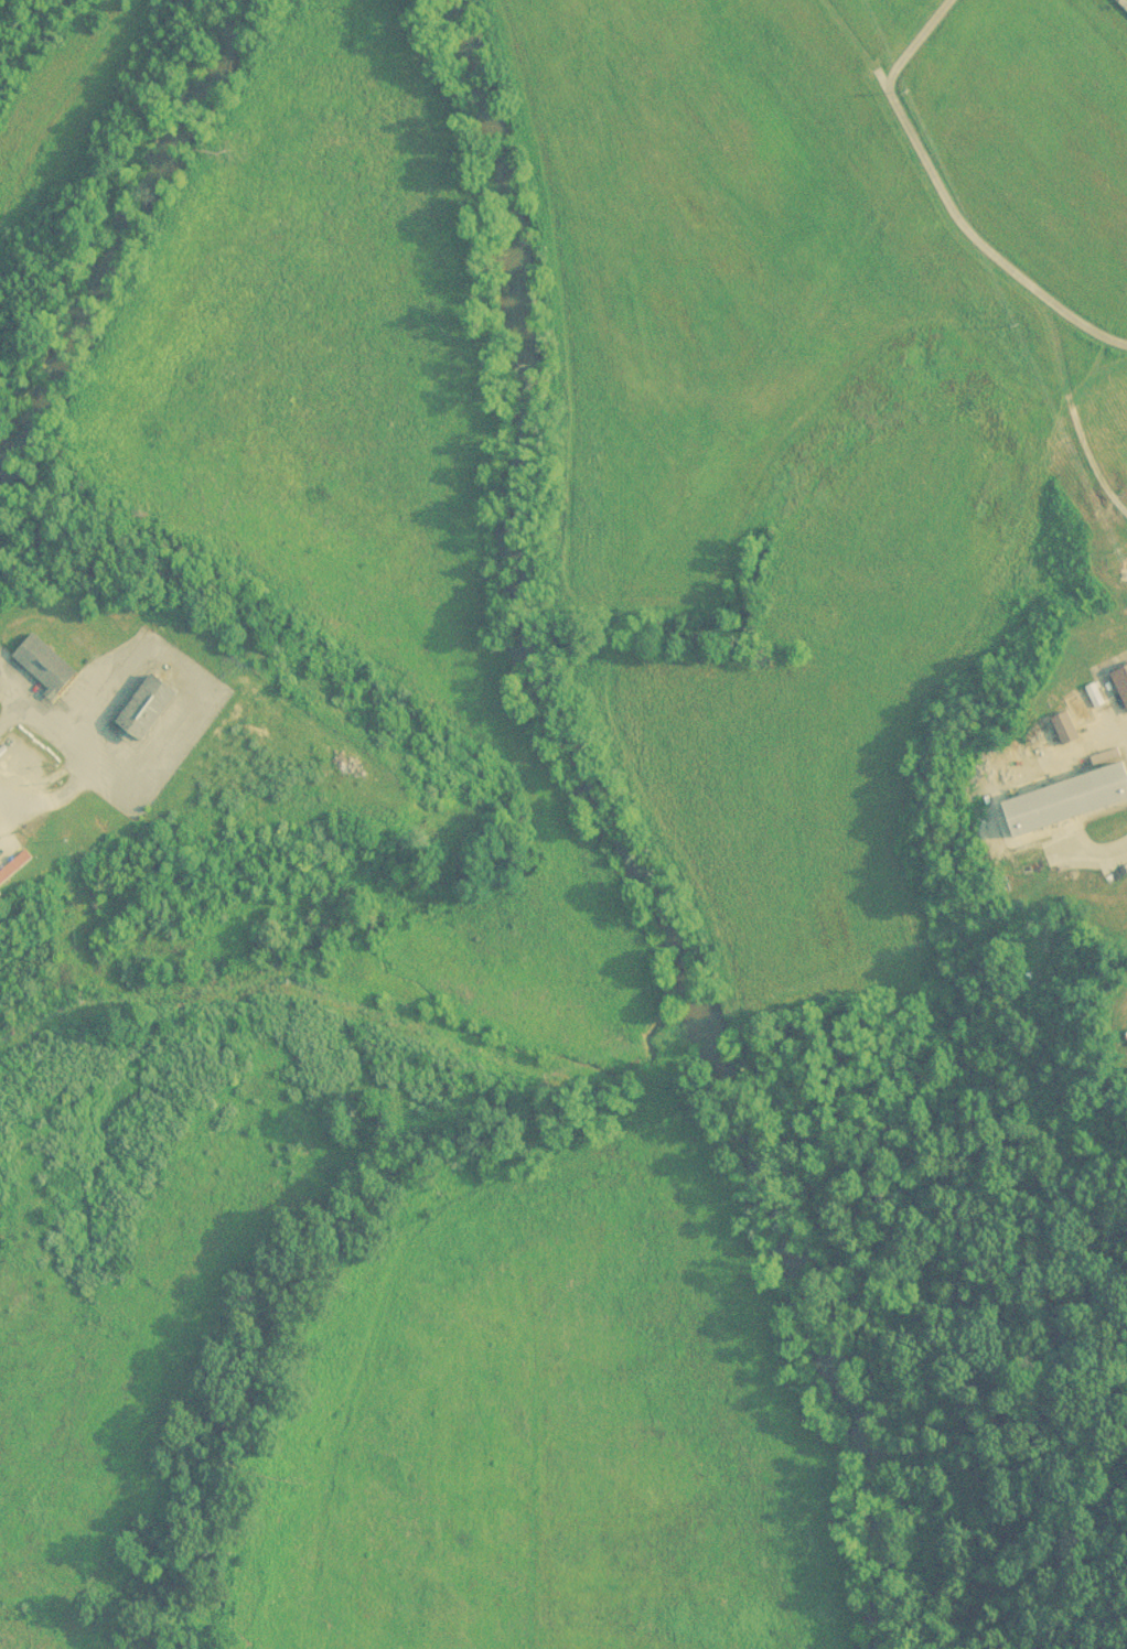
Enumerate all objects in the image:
river: (600, 520)
building: (44, 665)
building: (1121, 682)
building: (1094, 694)
building: (1072, 705)
building: (148, 708)
building: (1066, 798)
building: (14, 865)
building: (2, 1642)

